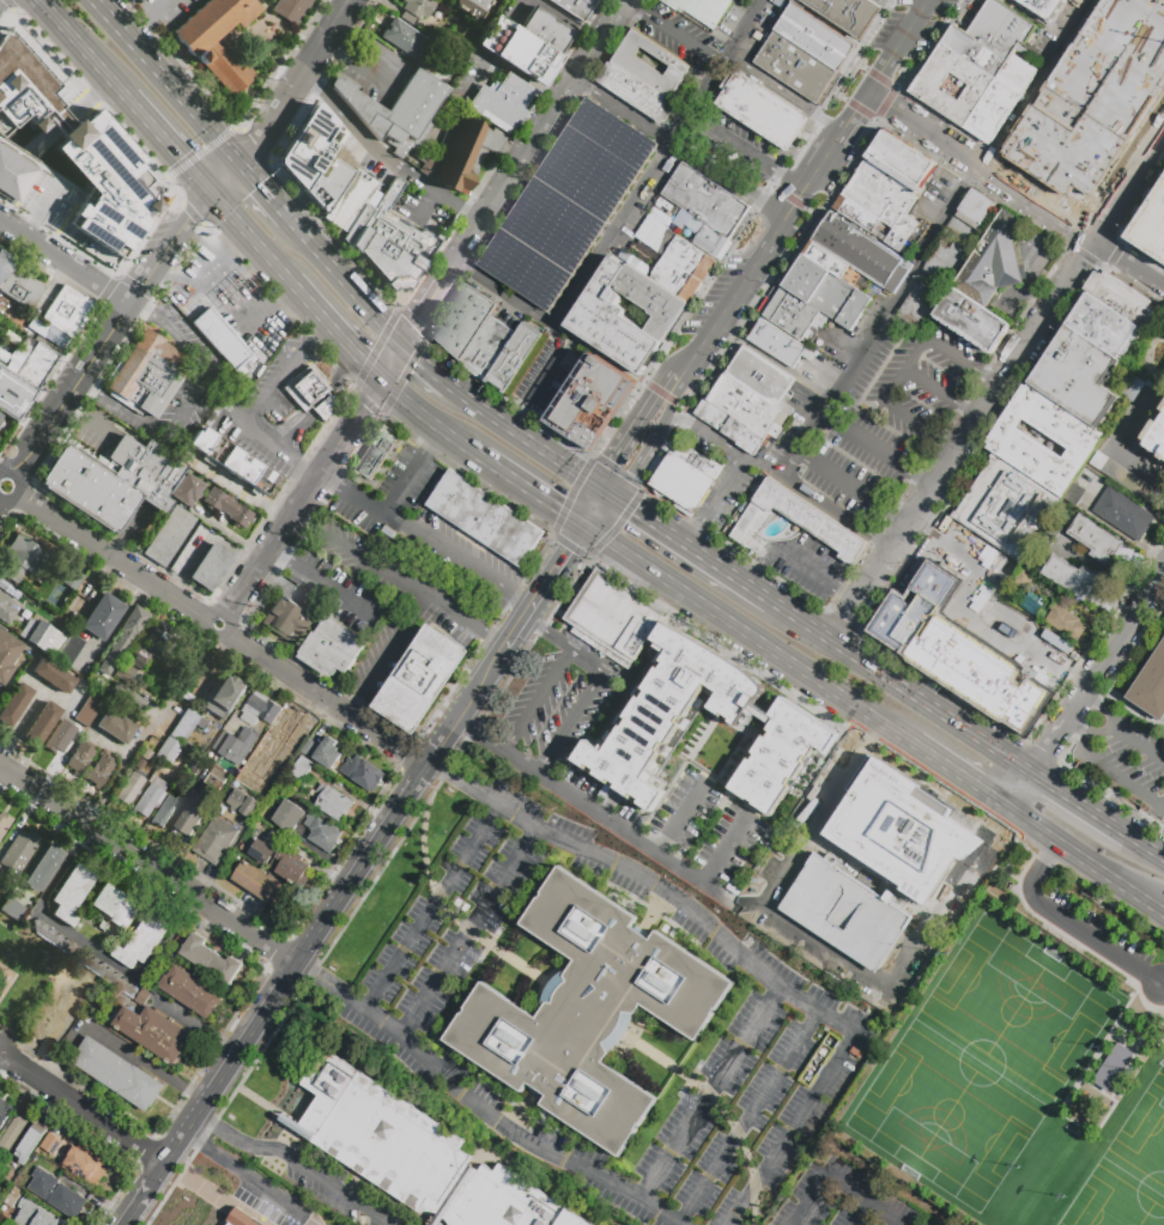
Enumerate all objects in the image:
building: (132, 1)
parking lot: (745, 2)
building: (880, 2)
building: (469, 6)
building: (1042, 6)
building: (575, 7)
building: (291, 8)
building: (416, 10)
building: (699, 10)
road: (159, 12)
building: (847, 14)
road: (1041, 18)
road: (827, 23)
road: (878, 23)
road: (744, 26)
road: (909, 26)
road: (673, 30)
building: (544, 31)
road: (144, 35)
road: (75, 36)
building: (812, 36)
building: (989, 36)
building: (404, 38)
road: (930, 47)
building: (515, 50)
building: (207, 51)
building: (793, 66)
road: (859, 66)
road: (879, 71)
building: (643, 77)
road: (879, 78)
road: (168, 80)
road: (297, 83)
building: (950, 84)
road: (121, 85)
road: (90, 92)
road: (783, 92)
road: (838, 96)
road: (697, 97)
building: (999, 98)
building: (1095, 102)
parking garage: (1095, 102)
building: (502, 103)
road: (884, 103)
road: (859, 108)
road: (622, 109)
building: (760, 111)
road: (851, 114)
building: (423, 128)
road: (538, 131)
road: (169, 142)
building: (307, 144)
building: (73, 146)
road: (745, 150)
road: (383, 156)
building: (902, 157)
road: (822, 160)
road: (656, 162)
road: (982, 164)
building: (14, 171)
building: (891, 174)
road: (224, 176)
road: (726, 180)
road: (771, 187)
road: (262, 189)
road: (554, 195)
road: (788, 198)
building: (705, 199)
road: (795, 199)
building: (883, 202)
building: (568, 204)
parking lot: (568, 204)
road: (624, 212)
road: (751, 212)
road: (811, 212)
building: (855, 213)
road: (584, 214)
building: (657, 217)
building: (1151, 226)
building: (372, 228)
road: (811, 229)
building: (702, 232)
road: (250, 236)
road: (236, 237)
road: (936, 237)
road: (770, 238)
building: (960, 238)
road: (168, 244)
building: (857, 249)
building: (684, 253)
building: (827, 260)
building: (4, 262)
road: (63, 262)
road: (1129, 265)
road: (210, 272)
road: (342, 278)
building: (675, 278)
road: (577, 283)
building: (983, 286)
building: (19, 287)
building: (234, 289)
gas station: (234, 289)
road: (503, 290)
building: (826, 291)
road: (285, 292)
building: (1120, 297)
road: (730, 298)
building: (650, 299)
road: (425, 302)
road: (138, 309)
building: (18, 310)
building: (790, 311)
building: (63, 315)
road: (263, 315)
traffic signals: (417, 316)
building: (611, 321)
building: (465, 322)
building: (1101, 323)
road: (319, 329)
road: (337, 330)
building: (220, 338)
building: (778, 344)
building: (489, 348)
road: (598, 352)
road: (693, 356)
traffic signals: (419, 357)
building: (514, 357)
road: (346, 359)
road: (389, 360)
traffic signals: (363, 362)
road: (425, 362)
road: (551, 365)
road: (787, 368)
road: (202, 369)
road: (899, 369)
building: (147, 372)
building: (1074, 374)
building: (759, 376)
building: (23, 378)
road: (279, 381)
road: (335, 383)
road: (86, 386)
road: (674, 386)
road: (995, 387)
road: (71, 389)
road: (656, 389)
building: (309, 392)
road: (938, 393)
road: (673, 399)
road: (319, 400)
building: (594, 401)
road: (481, 404)
building: (746, 406)
traffic signals: (363, 407)
road: (685, 407)
building: (1162, 407)
building: (0, 413)
road: (691, 413)
road: (519, 414)
building: (0, 416)
road: (131, 416)
building: (212, 416)
road: (666, 417)
road: (431, 418)
road: (619, 418)
parking lot: (893, 420)
building: (0, 422)
road: (291, 424)
building: (729, 426)
road: (628, 433)
road: (266, 435)
road: (436, 437)
building: (1154, 437)
building: (1074, 438)
road: (1111, 448)
road: (875, 449)
building: (375, 453)
road: (553, 454)
traffic signals: (611, 460)
building: (232, 461)
road: (637, 467)
road: (309, 468)
road: (780, 475)
building: (1123, 478)
building: (120, 480)
building: (683, 483)
road: (853, 484)
road: (18, 485)
road: (534, 489)
road: (606, 490)
road: (571, 495)
road: (717, 502)
road: (297, 503)
road: (590, 503)
building: (226, 507)
traffic signals: (560, 507)
building: (1006, 507)
traffic signals: (635, 509)
road: (601, 510)
building: (1122, 515)
road: (384, 516)
road: (624, 517)
building: (485, 520)
building: (818, 523)
building: (168, 535)
building: (1093, 538)
road: (624, 548)
road: (278, 550)
traffic signals: (568, 551)
road: (696, 551)
parking lot: (971, 553)
building: (26, 554)
road: (459, 558)
road: (796, 560)
building: (210, 565)
parking lot: (805, 565)
road: (1108, 571)
road: (756, 576)
building: (1023, 577)
building: (1071, 577)
road: (328, 583)
road: (520, 587)
road: (541, 590)
road: (418, 593)
road: (847, 594)
building: (56, 599)
building: (5, 608)
building: (102, 615)
road: (455, 615)
building: (614, 618)
road: (969, 619)
building: (290, 621)
road: (1017, 621)
building: (1065, 623)
road: (220, 630)
road: (542, 630)
road: (1123, 635)
building: (41, 637)
building: (122, 638)
road: (496, 642)
building: (156, 645)
building: (333, 648)
building: (956, 649)
building: (68, 650)
building: (7, 657)
road: (581, 659)
road: (789, 661)
parking lot: (1049, 661)
building: (123, 673)
building: (53, 675)
building: (423, 680)
building: (1151, 686)
road: (903, 687)
building: (225, 696)
building: (128, 699)
road: (536, 702)
building: (13, 704)
building: (90, 708)
road: (1075, 709)
road: (1103, 709)
building: (260, 710)
road: (462, 710)
building: (671, 710)
road: (570, 721)
building: (42, 723)
building: (186, 724)
building: (284, 726)
building: (115, 727)
road: (1079, 728)
road: (1101, 732)
building: (60, 736)
road: (1057, 738)
building: (236, 745)
road: (1138, 745)
building: (168, 751)
building: (323, 751)
road: (958, 752)
road: (1043, 752)
building: (784, 753)
building: (146, 754)
building: (79, 757)
building: (139, 764)
road: (1039, 764)
parking lot: (1132, 764)
road: (449, 765)
road: (946, 766)
building: (301, 768)
building: (99, 771)
building: (363, 772)
road: (1114, 775)
road: (455, 777)
building: (216, 778)
building: (260, 780)
building: (129, 788)
road: (1110, 796)
road: (992, 798)
building: (146, 799)
road: (1122, 800)
building: (333, 802)
building: (242, 803)
road: (1084, 805)
road: (1136, 808)
building: (164, 812)
building: (195, 817)
road: (607, 818)
building: (4, 821)
road: (1073, 821)
building: (309, 826)
building: (901, 832)
building: (216, 841)
road: (1150, 848)
building: (19, 849)
road: (725, 849)
building: (262, 851)
road: (1085, 859)
road: (147, 863)
building: (43, 867)
building: (292, 868)
road: (1038, 871)
building: (262, 885)
road: (1083, 891)
building: (69, 893)
road: (1099, 896)
road: (1101, 900)
building: (8, 904)
building: (115, 905)
road: (431, 906)
building: (845, 911)
parking garage: (845, 911)
road: (455, 918)
building: (103, 927)
road: (291, 930)
road: (469, 930)
parking lot: (463, 936)
building: (143, 942)
road: (1075, 944)
road: (1099, 944)
parking lot: (1105, 944)
road: (91, 946)
road: (817, 947)
park: (24, 958)
building: (85, 959)
building: (210, 959)
road: (763, 971)
road: (11, 977)
building: (190, 991)
road: (274, 994)
building: (144, 999)
building: (589, 1012)
road: (196, 1023)
building: (154, 1033)
road: (113, 1045)
park: (1024, 1061)
park: (981, 1063)
building: (1113, 1067)
building: (119, 1074)
road: (1097, 1091)
road: (710, 1092)
parking lot: (730, 1097)
road: (479, 1105)
road: (719, 1106)
road: (81, 1108)
building: (5, 1112)
road: (207, 1116)
road: (748, 1117)
building: (11, 1136)
building: (30, 1141)
road: (188, 1142)
building: (51, 1145)
building: (416, 1154)
building: (85, 1165)
road: (308, 1169)
park: (1128, 1170)
building: (42, 1184)
road: (255, 1185)
parking lot: (839, 1199)
road: (810, 1200)
road: (862, 1200)
building: (0, 1201)
building: (67, 1201)
road: (862, 1214)
building: (36, 1215)
building: (242, 1219)

